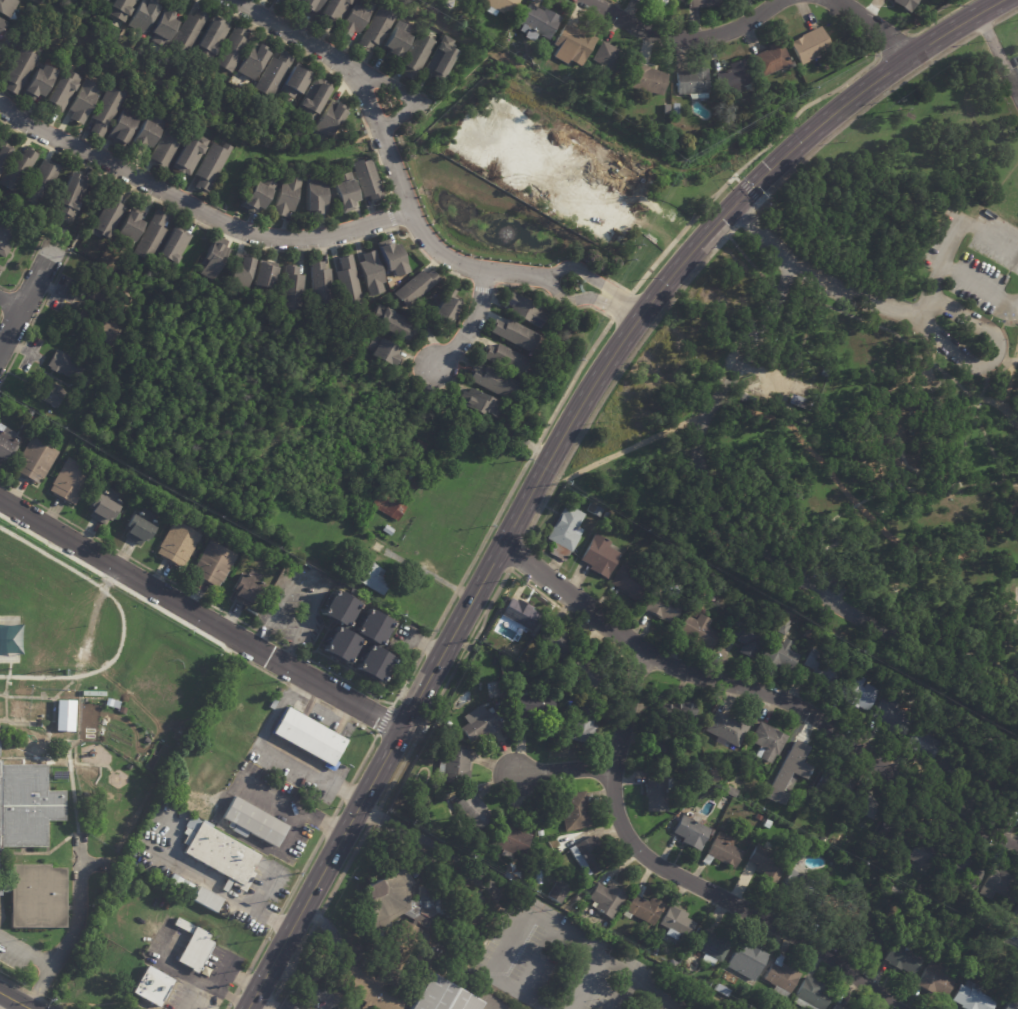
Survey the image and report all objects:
building: (106, 0)
building: (292, 0)
building: (467, 0)
building: (656, 1)
building: (661, 1)
building: (699, 3)
building: (307, 4)
building: (904, 4)
building: (499, 6)
building: (6, 7)
building: (119, 8)
building: (331, 10)
building: (143, 15)
road: (928, 15)
building: (354, 17)
building: (462, 20)
road: (937, 20)
building: (535, 22)
building: (2, 23)
building: (161, 27)
road: (873, 27)
building: (186, 28)
building: (374, 28)
building: (477, 30)
building: (484, 35)
building: (208, 36)
road: (684, 39)
building: (396, 40)
road: (889, 40)
building: (570, 45)
building: (809, 45)
building: (232, 48)
road: (997, 53)
building: (415, 56)
building: (605, 57)
building: (441, 58)
building: (771, 59)
building: (252, 60)
parking lot: (1016, 62)
building: (19, 69)
building: (272, 73)
road: (1014, 74)
road: (335, 77)
building: (733, 77)
building: (39, 79)
building: (647, 80)
building: (294, 81)
building: (691, 82)
building: (61, 88)
park: (181, 93)
road: (404, 94)
building: (756, 94)
road: (192, 95)
building: (312, 98)
building: (82, 100)
building: (106, 108)
building: (675, 108)
road: (858, 113)
building: (329, 117)
building: (122, 123)
building: (151, 131)
building: (165, 148)
road: (387, 149)
building: (188, 153)
building: (5, 156)
building: (209, 165)
building: (20, 169)
road: (736, 172)
building: (365, 177)
building: (45, 179)
road: (746, 188)
building: (255, 192)
building: (344, 192)
building: (316, 193)
building: (287, 194)
building: (73, 195)
road: (86, 208)
road: (196, 208)
building: (106, 213)
road: (390, 216)
road: (744, 217)
building: (128, 225)
road: (966, 225)
building: (148, 234)
building: (7, 237)
road: (237, 240)
building: (172, 246)
building: (213, 256)
building: (392, 259)
road: (750, 261)
parking lot: (977, 261)
road: (25, 267)
building: (239, 268)
building: (261, 272)
building: (371, 273)
building: (347, 280)
road: (593, 280)
building: (320, 281)
road: (935, 283)
building: (414, 287)
road: (979, 287)
road: (482, 288)
road: (779, 288)
building: (291, 289)
road: (785, 291)
building: (103, 293)
road: (29, 295)
road: (586, 298)
road: (6, 300)
road: (10, 304)
road: (621, 305)
building: (446, 307)
building: (523, 309)
road: (0, 313)
road: (36, 315)
building: (389, 320)
road: (917, 320)
road: (1010, 323)
building: (95, 325)
road: (471, 325)
road: (891, 331)
building: (514, 334)
road: (1006, 340)
building: (776, 342)
building: (381, 350)
building: (505, 359)
road: (1011, 359)
building: (793, 362)
building: (67, 366)
road: (997, 368)
building: (815, 370)
road: (616, 374)
building: (493, 381)
road: (931, 386)
building: (47, 392)
park: (853, 394)
road: (1000, 395)
building: (744, 397)
building: (797, 400)
road: (988, 400)
building: (10, 401)
building: (477, 403)
road: (972, 411)
building: (29, 413)
road: (553, 413)
building: (0, 426)
building: (504, 436)
building: (6, 443)
road: (897, 444)
building: (418, 446)
road: (556, 447)
road: (961, 448)
road: (989, 448)
road: (628, 449)
building: (33, 460)
building: (437, 466)
building: (409, 478)
building: (68, 480)
road: (858, 501)
building: (386, 505)
building: (104, 506)
road: (860, 507)
building: (593, 510)
road: (1009, 513)
building: (606, 515)
building: (406, 521)
building: (138, 526)
building: (387, 530)
building: (402, 530)
building: (563, 531)
road: (748, 535)
building: (176, 544)
building: (376, 545)
road: (515, 554)
road: (127, 555)
building: (599, 555)
building: (211, 563)
building: (369, 576)
building: (711, 577)
road: (307, 580)
parking lot: (825, 581)
building: (630, 582)
building: (245, 592)
building: (701, 594)
road: (142, 599)
building: (661, 606)
building: (338, 608)
park: (1016, 608)
road: (274, 614)
building: (518, 614)
road: (199, 615)
road: (119, 624)
road: (303, 626)
building: (371, 626)
building: (782, 626)
road: (479, 628)
building: (698, 630)
road: (472, 631)
road: (261, 633)
building: (806, 633)
building: (744, 638)
building: (553, 640)
road: (276, 641)
building: (13, 642)
building: (339, 644)
road: (426, 645)
road: (291, 650)
building: (778, 653)
building: (373, 662)
building: (527, 665)
building: (821, 667)
building: (578, 669)
park: (93, 675)
road: (1015, 675)
road: (4, 681)
road: (61, 690)
road: (760, 691)
building: (855, 692)
road: (370, 693)
building: (476, 693)
building: (91, 694)
road: (49, 699)
road: (318, 701)
building: (272, 705)
building: (530, 706)
building: (1, 708)
building: (30, 710)
road: (4, 711)
building: (676, 711)
building: (892, 715)
road: (74, 718)
road: (384, 718)
building: (582, 723)
building: (479, 724)
road: (38, 728)
building: (727, 728)
building: (684, 734)
building: (307, 736)
road: (375, 736)
building: (767, 741)
building: (922, 744)
road: (369, 747)
building: (664, 749)
road: (43, 750)
road: (276, 750)
road: (57, 754)
building: (800, 761)
building: (949, 761)
road: (81, 766)
building: (454, 766)
road: (564, 770)
building: (714, 773)
building: (58, 774)
building: (832, 785)
building: (991, 789)
road: (346, 790)
building: (729, 790)
building: (656, 791)
road: (69, 792)
building: (1017, 803)
road: (290, 804)
building: (865, 804)
building: (26, 805)
road: (336, 807)
building: (770, 807)
building: (471, 810)
building: (573, 811)
building: (1015, 812)
road: (372, 817)
building: (252, 822)
building: (767, 824)
road: (327, 825)
building: (689, 831)
building: (710, 832)
building: (539, 833)
road: (290, 834)
building: (893, 835)
building: (510, 839)
building: (822, 839)
building: (467, 845)
building: (857, 849)
building: (721, 850)
road: (19, 851)
building: (586, 854)
building: (220, 855)
road: (41, 856)
building: (928, 856)
road: (442, 862)
building: (766, 863)
road: (344, 870)
building: (963, 873)
road: (300, 874)
road: (676, 875)
building: (507, 877)
building: (537, 877)
building: (1003, 884)
building: (178, 885)
road: (264, 886)
building: (798, 886)
road: (219, 890)
building: (556, 893)
building: (898, 895)
building: (36, 896)
building: (206, 899)
building: (606, 899)
building: (643, 907)
building: (399, 908)
building: (839, 911)
building: (471, 912)
building: (1016, 916)
road: (316, 918)
road: (274, 921)
building: (675, 923)
road: (72, 927)
building: (870, 932)
road: (302, 945)
road: (581, 945)
building: (191, 946)
road: (333, 946)
building: (712, 946)
road: (511, 947)
road: (258, 950)
road: (26, 952)
building: (1001, 952)
parking lot: (14, 953)
building: (698, 953)
building: (901, 958)
building: (746, 960)
parking lot: (560, 964)
building: (671, 964)
road: (231, 972)
road: (286, 973)
road: (189, 976)
building: (780, 977)
road: (242, 979)
building: (732, 979)
building: (934, 980)
road: (584, 982)
road: (13, 984)
building: (151, 986)
gas station: (152, 986)
road: (308, 987)
road: (277, 989)
building: (365, 989)
road: (236, 990)
building: (722, 990)
road: (625, 992)
road: (660, 992)
road: (527, 994)
building: (810, 995)
road: (35, 996)
building: (971, 997)
road: (232, 998)
building: (449, 998)
road: (13, 1001)
road: (4, 1003)
road: (185, 1003)
road: (262, 1003)
road: (52, 1004)
road: (270, 1004)
building: (1011, 1004)
road: (227, 1005)
building: (834, 1007)
building: (844, 1008)

